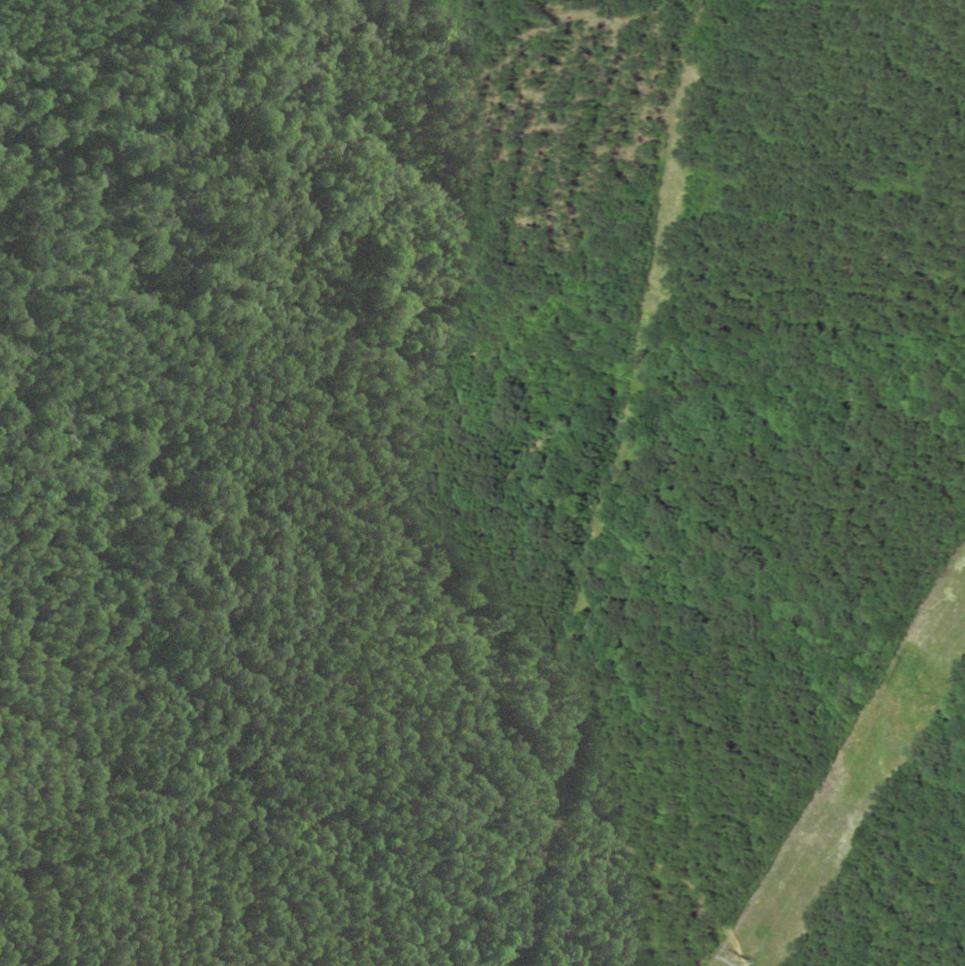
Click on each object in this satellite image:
power tower: (750, 962)

